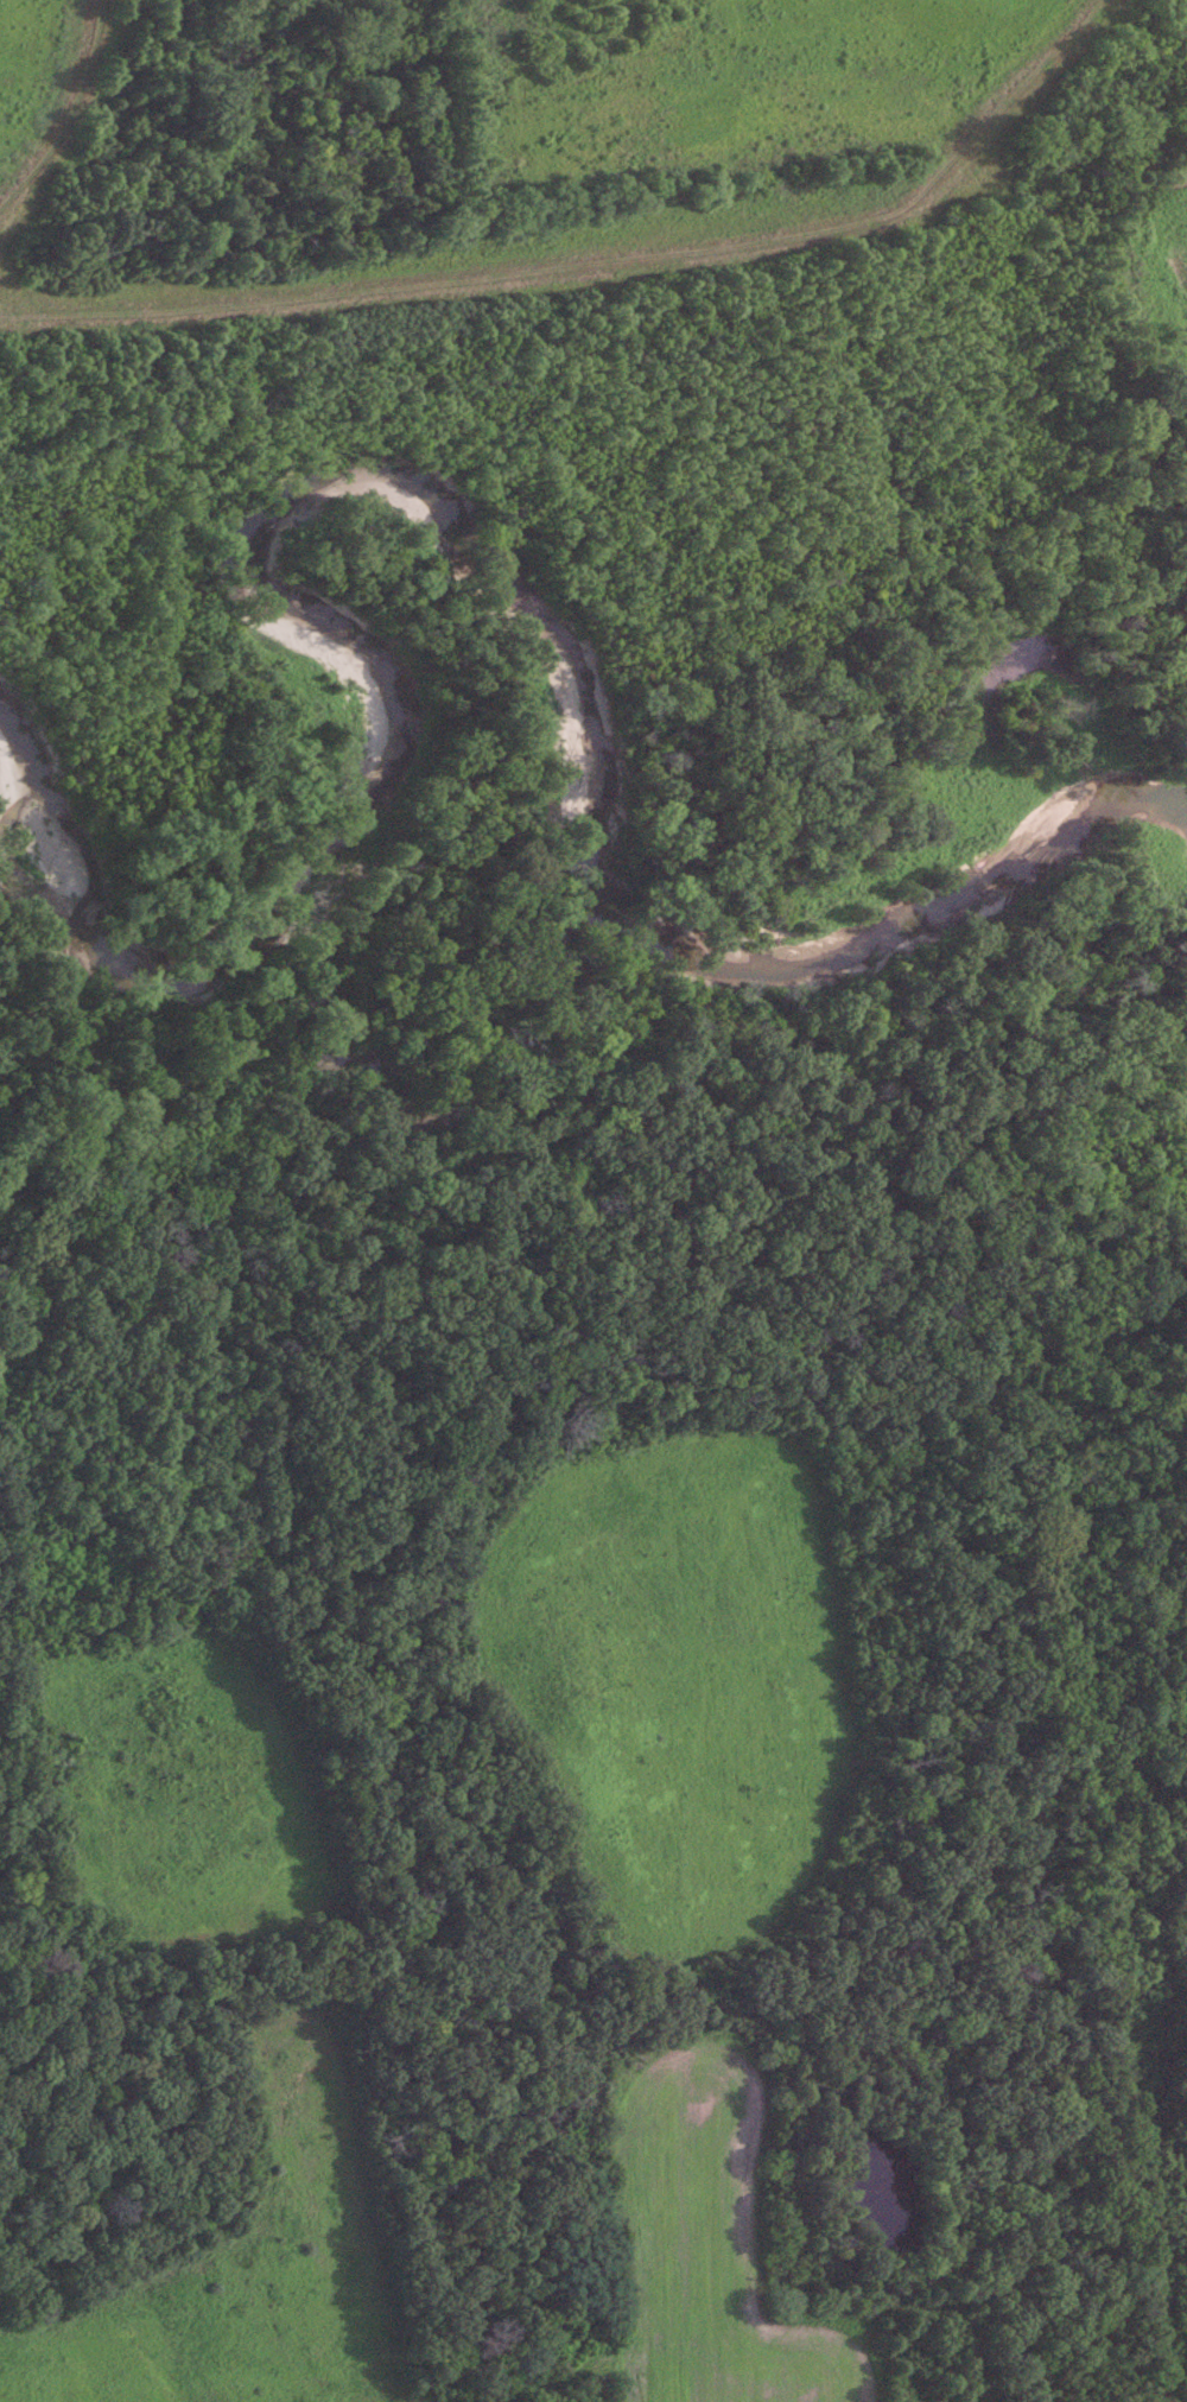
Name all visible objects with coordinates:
river: (455, 526)

